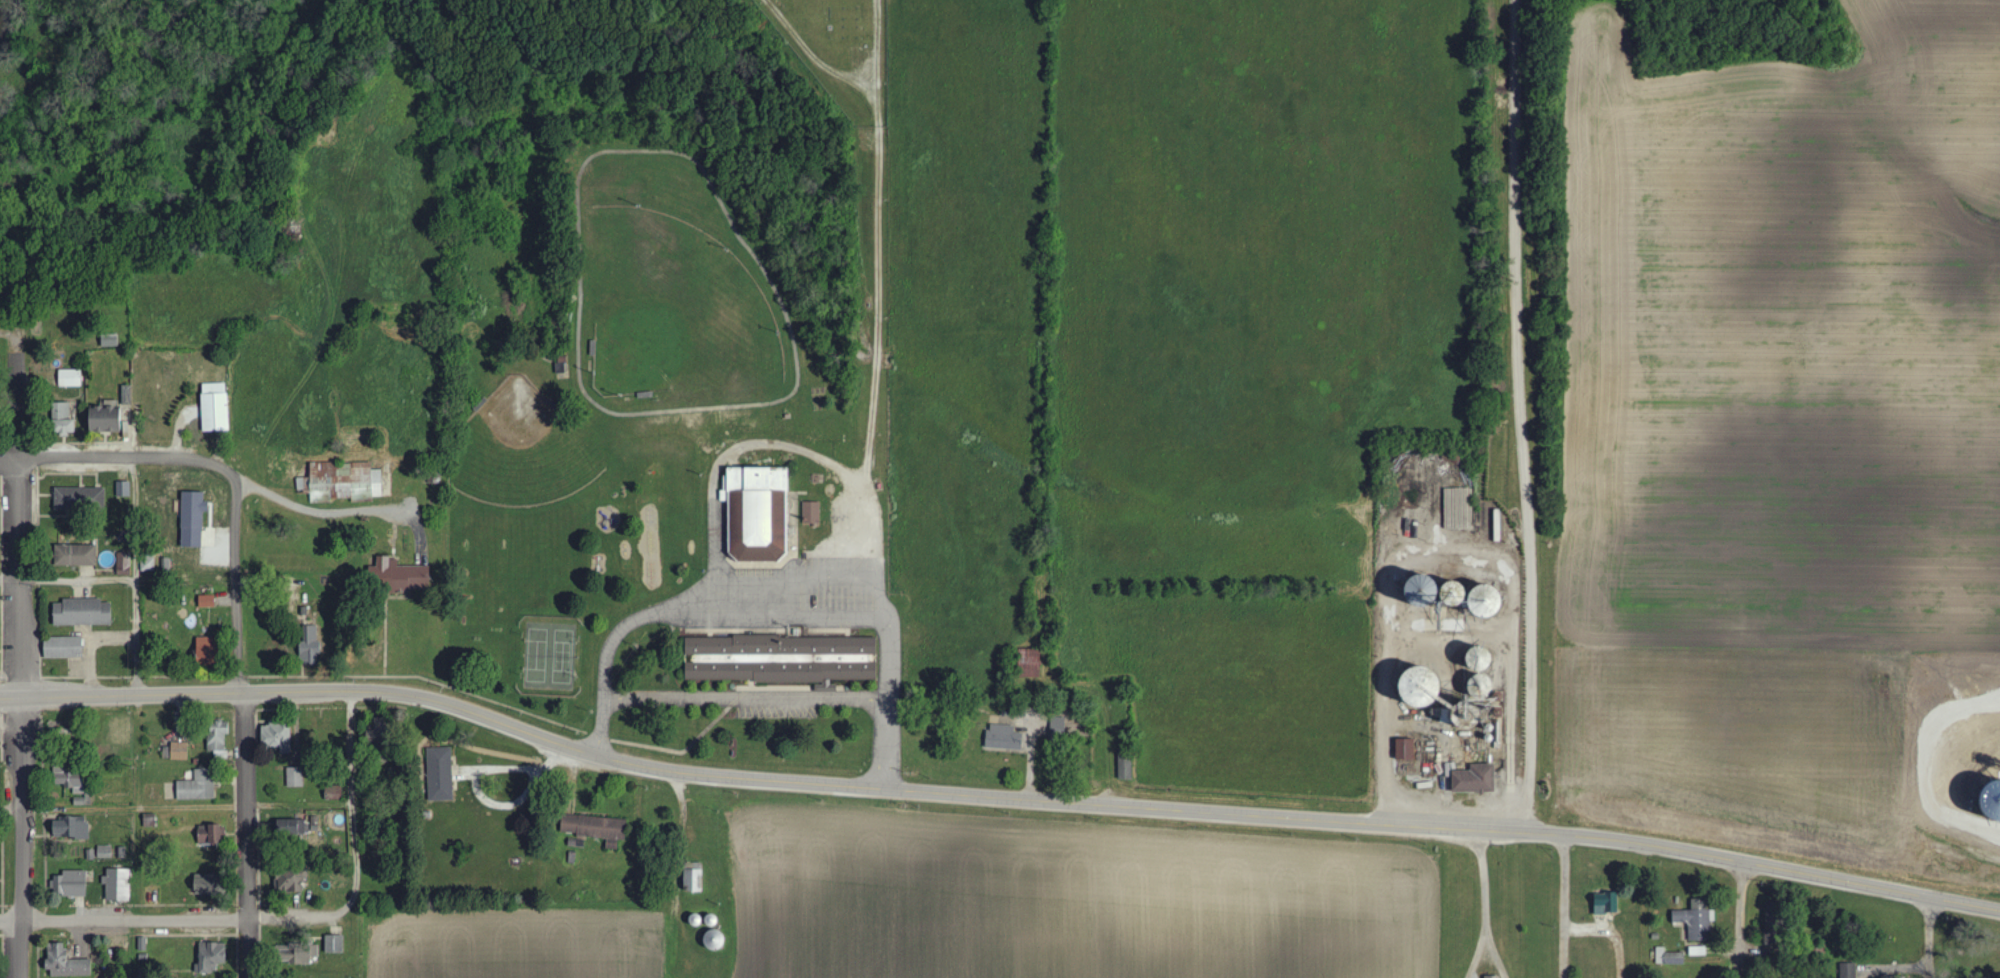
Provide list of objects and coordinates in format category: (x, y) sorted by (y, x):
park: (673, 309)
building: (113, 341)
building: (72, 378)
building: (220, 407)
road: (1520, 417)
building: (111, 419)
building: (69, 420)
road: (120, 460)
building: (346, 482)
building: (126, 489)
building: (83, 499)
road: (276, 499)
building: (814, 513)
building: (762, 514)
building: (198, 518)
building: (0, 547)
building: (80, 555)
building: (151, 563)
building: (127, 564)
building: (406, 575)
road: (122, 580)
building: (1442, 594)
building: (209, 601)
building: (88, 612)
building: (313, 644)
building: (67, 648)
building: (213, 648)
park: (549, 652)
building: (788, 660)
building: (1037, 664)
building: (1474, 669)
building: (1, 673)
road: (274, 692)
road: (716, 694)
road: (887, 699)
road: (14, 718)
building: (1062, 726)
road: (242, 729)
building: (124, 731)
building: (2, 736)
building: (279, 737)
building: (221, 739)
building: (1006, 739)
building: (1402, 749)
building: (183, 751)
building: (1128, 768)
building: (446, 774)
building: (71, 777)
building: (297, 777)
building: (1471, 779)
building: (201, 786)
road: (122, 807)
road: (349, 807)
road: (1271, 816)
building: (73, 829)
building: (600, 829)
building: (214, 834)
building: (107, 852)
road: (1480, 876)
building: (699, 878)
building: (293, 881)
building: (74, 884)
building: (214, 884)
building: (120, 885)
building: (156, 895)
building: (1602, 904)
road: (1562, 907)
road: (165, 920)
building: (1693, 920)
road: (1738, 920)
road: (1928, 938)
building: (723, 940)
building: (338, 944)
road: (1475, 950)
road: (1490, 950)
building: (1695, 951)
building: (307, 954)
building: (214, 957)
building: (1667, 957)
building: (69, 963)
building: (1846, 970)
building: (1490, 977)

